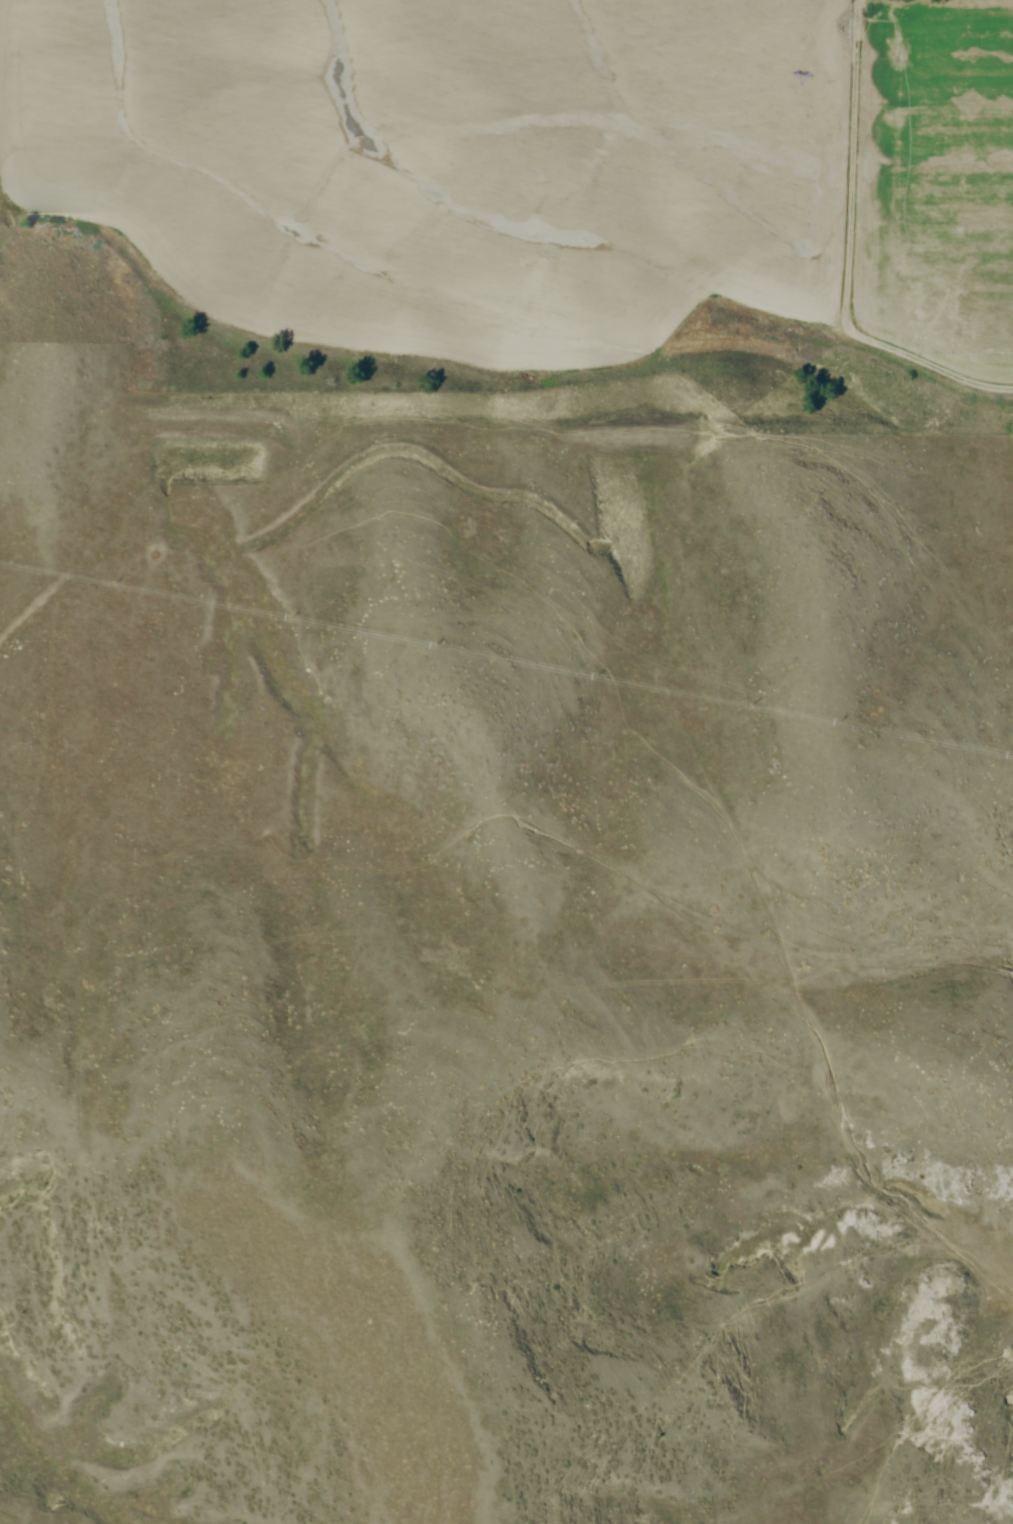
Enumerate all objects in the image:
road: (854, 251)

